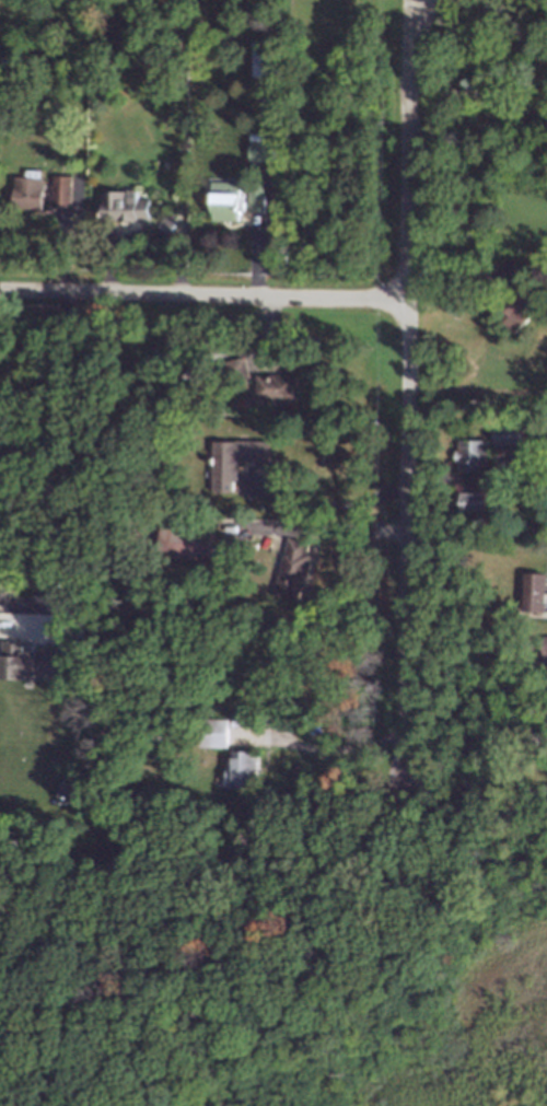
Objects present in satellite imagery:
road: (420, 37)
building: (271, 58)
road: (480, 91)
building: (264, 145)
building: (62, 189)
building: (28, 191)
building: (259, 197)
building: (229, 200)
building: (127, 205)
road: (205, 293)
building: (520, 312)
road: (40, 377)
building: (279, 386)
road: (409, 391)
building: (511, 434)
road: (73, 442)
building: (474, 454)
building: (238, 459)
building: (474, 500)
road: (333, 503)
building: (296, 568)
building: (535, 591)
road: (486, 601)
building: (545, 645)
building: (60, 665)
building: (219, 732)
crop: (43, 740)
road: (334, 748)
building: (244, 769)
road: (475, 785)

